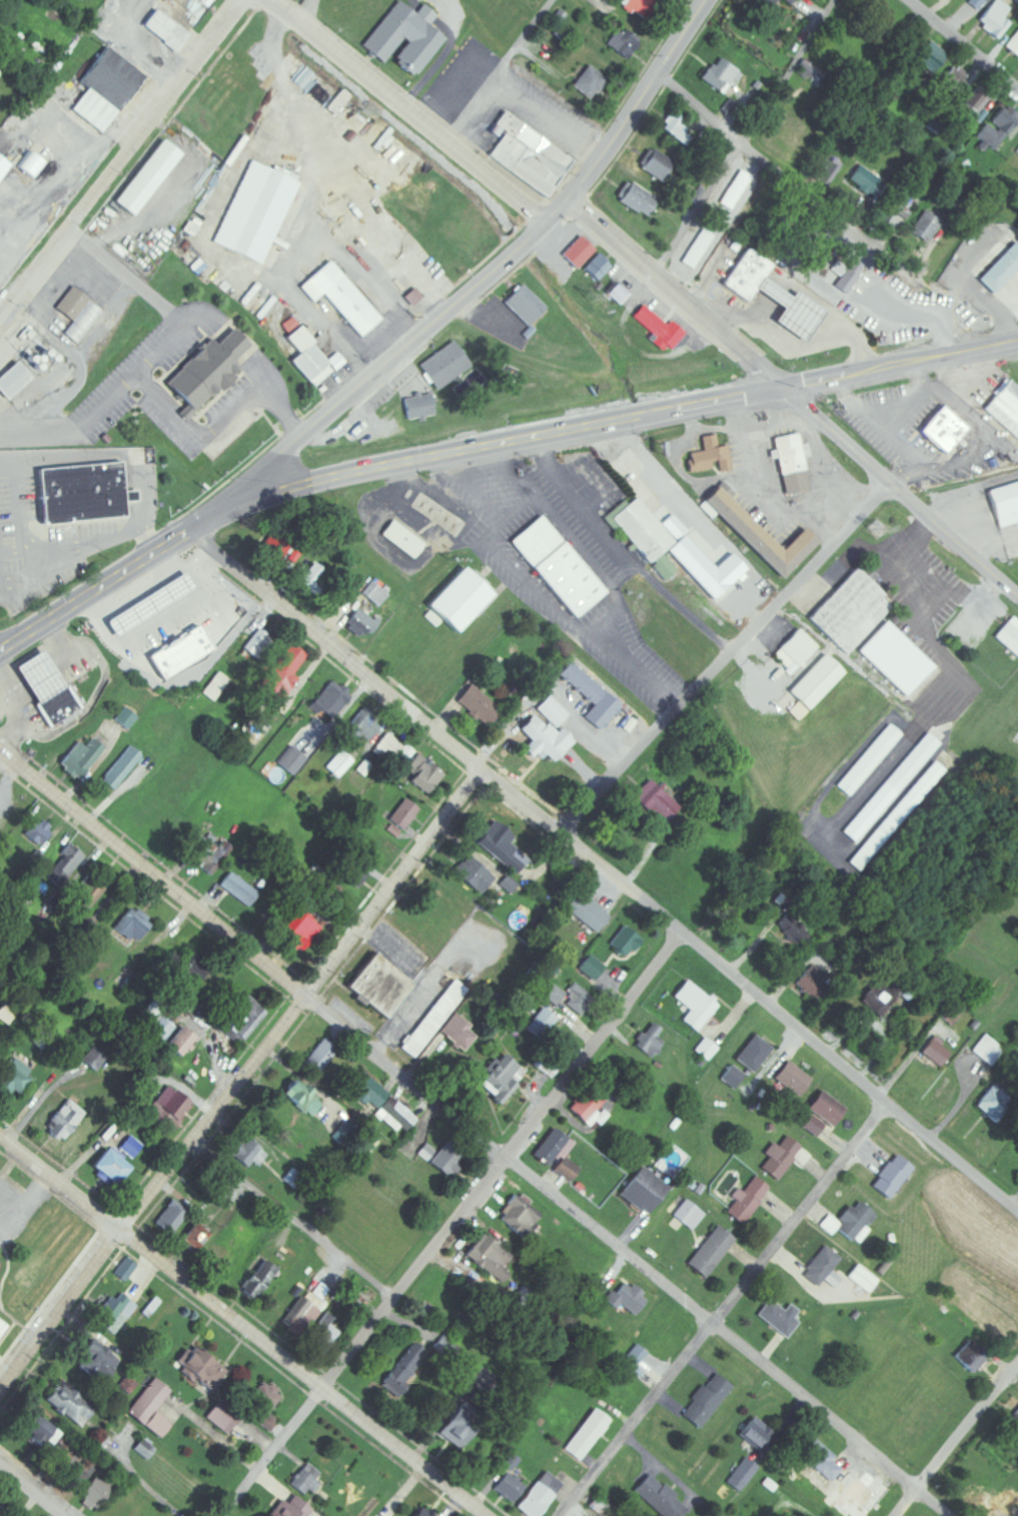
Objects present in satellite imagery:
building: (622, 1)
building: (771, 1)
building: (978, 4)
road: (313, 5)
building: (637, 6)
road: (312, 18)
building: (995, 19)
building: (166, 31)
building: (406, 39)
building: (623, 43)
road: (962, 44)
building: (1013, 45)
building: (931, 58)
road: (502, 69)
building: (807, 70)
building: (720, 76)
building: (953, 82)
building: (588, 83)
building: (106, 89)
building: (340, 101)
building: (973, 107)
road: (412, 108)
building: (677, 130)
building: (997, 130)
road: (748, 136)
building: (1017, 153)
building: (528, 155)
road: (124, 159)
building: (32, 164)
building: (657, 165)
building: (2, 167)
building: (830, 172)
building: (148, 177)
road: (786, 180)
building: (866, 182)
building: (736, 190)
building: (639, 201)
building: (255, 211)
building: (889, 219)
building: (927, 227)
building: (699, 249)
building: (579, 252)
building: (599, 268)
building: (1002, 271)
building: (848, 276)
road: (476, 287)
road: (680, 290)
building: (618, 293)
building: (773, 296)
building: (413, 297)
building: (341, 298)
building: (526, 305)
building: (79, 315)
building: (660, 329)
road: (160, 352)
building: (311, 358)
building: (445, 366)
building: (206, 371)
building: (13, 381)
building: (419, 407)
building: (1006, 409)
road: (221, 422)
road: (602, 422)
building: (944, 431)
building: (711, 456)
building: (792, 463)
building: (83, 491)
road: (901, 492)
building: (1006, 503)
building: (643, 528)
building: (757, 534)
building: (402, 537)
building: (558, 564)
building: (704, 565)
building: (308, 577)
building: (178, 586)
road: (96, 590)
building: (374, 594)
building: (461, 598)
building: (851, 611)
building: (360, 622)
building: (1009, 635)
building: (254, 642)
building: (797, 651)
building: (181, 652)
road: (725, 657)
building: (897, 658)
building: (282, 672)
building: (818, 682)
building: (214, 686)
building: (49, 688)
building: (590, 696)
building: (331, 699)
building: (479, 705)
building: (552, 711)
building: (124, 717)
building: (362, 726)
building: (544, 739)
building: (388, 747)
building: (81, 758)
building: (291, 760)
building: (870, 760)
building: (341, 763)
building: (121, 767)
building: (425, 774)
building: (892, 787)
building: (654, 802)
building: (404, 814)
building: (897, 816)
building: (38, 832)
building: (502, 847)
building: (211, 856)
building: (71, 862)
road: (605, 869)
building: (473, 875)
building: (355, 876)
building: (508, 884)
building: (237, 888)
building: (92, 895)
building: (586, 912)
building: (133, 924)
building: (794, 930)
building: (301, 931)
building: (623, 941)
building: (180, 954)
building: (590, 967)
building: (811, 980)
building: (379, 985)
building: (881, 993)
building: (569, 998)
building: (694, 1005)
building: (244, 1017)
building: (434, 1018)
building: (541, 1021)
building: (160, 1028)
building: (458, 1033)
building: (41, 1039)
building: (179, 1041)
building: (649, 1041)
building: (706, 1049)
building: (989, 1050)
building: (936, 1051)
building: (753, 1054)
building: (321, 1055)
building: (91, 1058)
building: (732, 1076)
building: (16, 1077)
building: (497, 1079)
building: (792, 1079)
road: (241, 1081)
building: (369, 1090)
building: (300, 1098)
building: (993, 1103)
building: (168, 1107)
building: (584, 1108)
building: (826, 1108)
building: (396, 1114)
building: (66, 1120)
building: (813, 1126)
road: (475, 1131)
building: (1017, 1145)
building: (130, 1147)
building: (249, 1153)
building: (555, 1154)
building: (783, 1157)
building: (439, 1159)
building: (108, 1168)
building: (892, 1177)
building: (293, 1178)
building: (642, 1190)
building: (747, 1200)
building: (688, 1215)
building: (518, 1216)
building: (171, 1217)
road: (453, 1224)
building: (195, 1237)
building: (711, 1252)
building: (821, 1266)
building: (127, 1270)
building: (863, 1279)
building: (259, 1280)
building: (625, 1298)
building: (119, 1308)
building: (310, 1308)
road: (723, 1309)
building: (780, 1317)
road: (243, 1325)
building: (1, 1326)
building: (326, 1335)
building: (635, 1356)
building: (970, 1357)
building: (98, 1360)
building: (405, 1368)
building: (201, 1369)
building: (126, 1383)
building: (705, 1400)
building: (67, 1403)
building: (266, 1403)
building: (151, 1408)
building: (1015, 1416)
building: (222, 1417)
building: (458, 1425)
building: (40, 1431)
building: (753, 1433)
building: (586, 1435)
road: (955, 1438)
building: (145, 1448)
building: (821, 1460)
building: (79, 1472)
building: (742, 1475)
building: (307, 1480)
building: (508, 1482)
road: (31, 1489)
building: (97, 1491)
building: (538, 1495)
building: (860, 1495)
building: (661, 1497)
building: (980, 1504)
building: (598, 1506)
building: (292, 1508)
building: (421, 1512)
building: (21, 1513)

